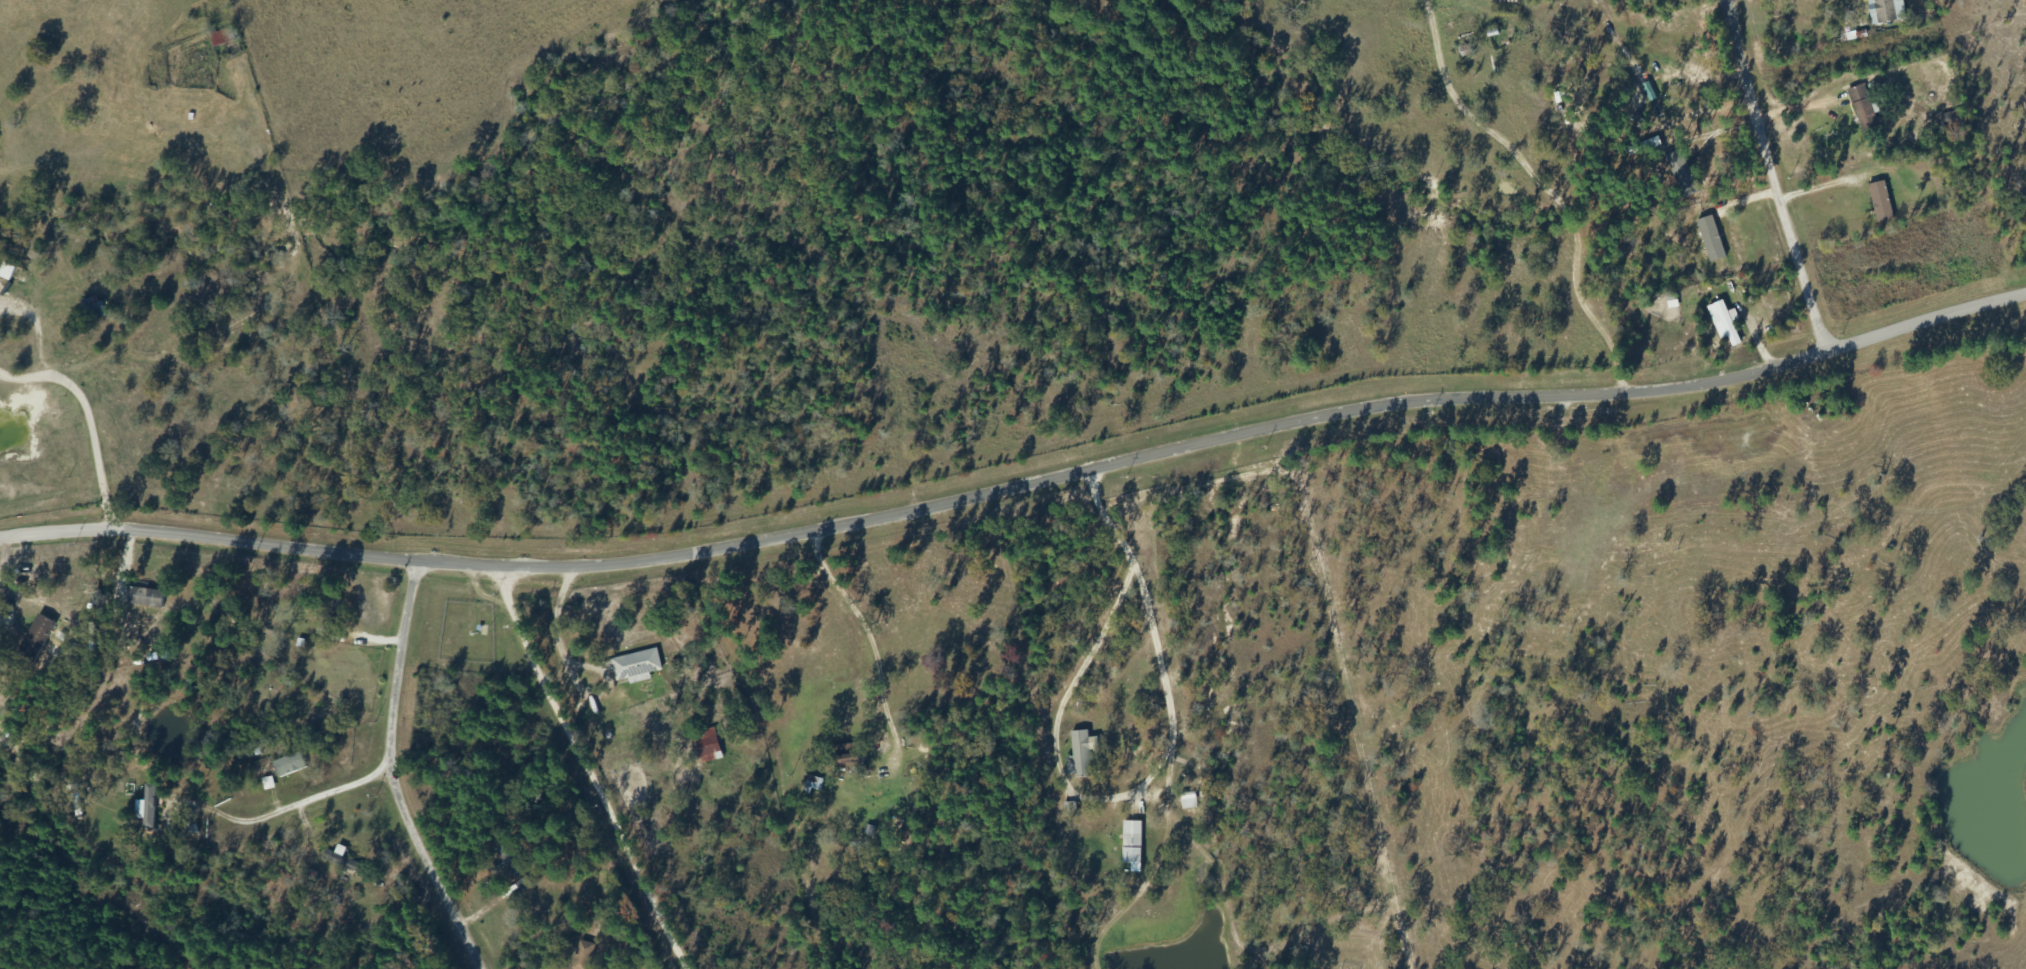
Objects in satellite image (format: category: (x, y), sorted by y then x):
building: (1881, 12)
building: (222, 38)
building: (153, 57)
road: (1806, 113)
road: (1781, 185)
road: (1831, 190)
building: (1879, 202)
road: (1449, 210)
building: (11, 275)
building: (91, 309)
road: (1014, 503)
road: (1388, 534)
road: (1114, 564)
building: (144, 598)
building: (328, 608)
building: (34, 639)
building: (635, 667)
road: (1349, 675)
road: (304, 744)
building: (708, 746)
building: (1081, 754)
building: (847, 764)
building: (289, 765)
road: (585, 794)
building: (1187, 802)
building: (901, 836)
building: (1130, 843)
building: (508, 860)
road: (233, 932)
road: (321, 932)
building: (581, 956)

